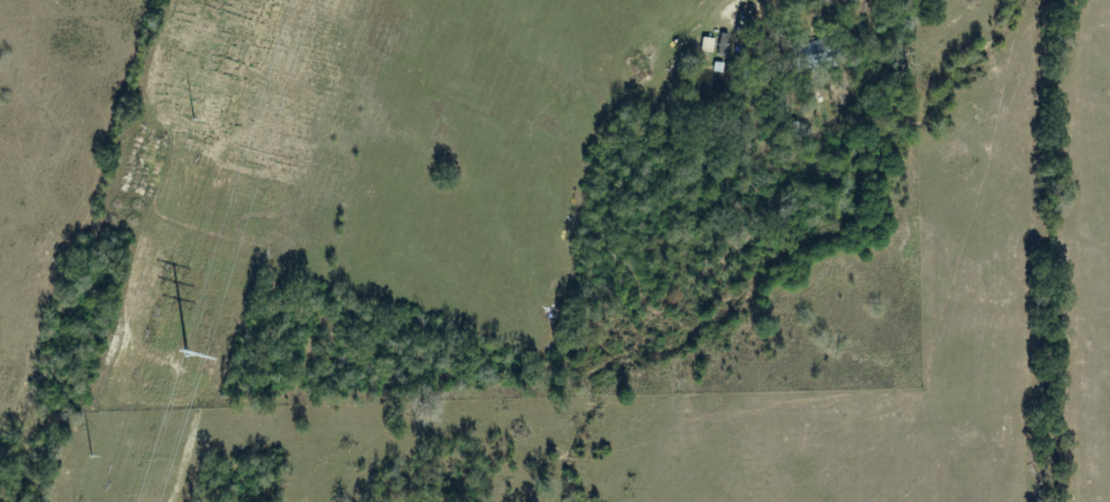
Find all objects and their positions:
power tower: (192, 120)
power tower: (90, 456)

